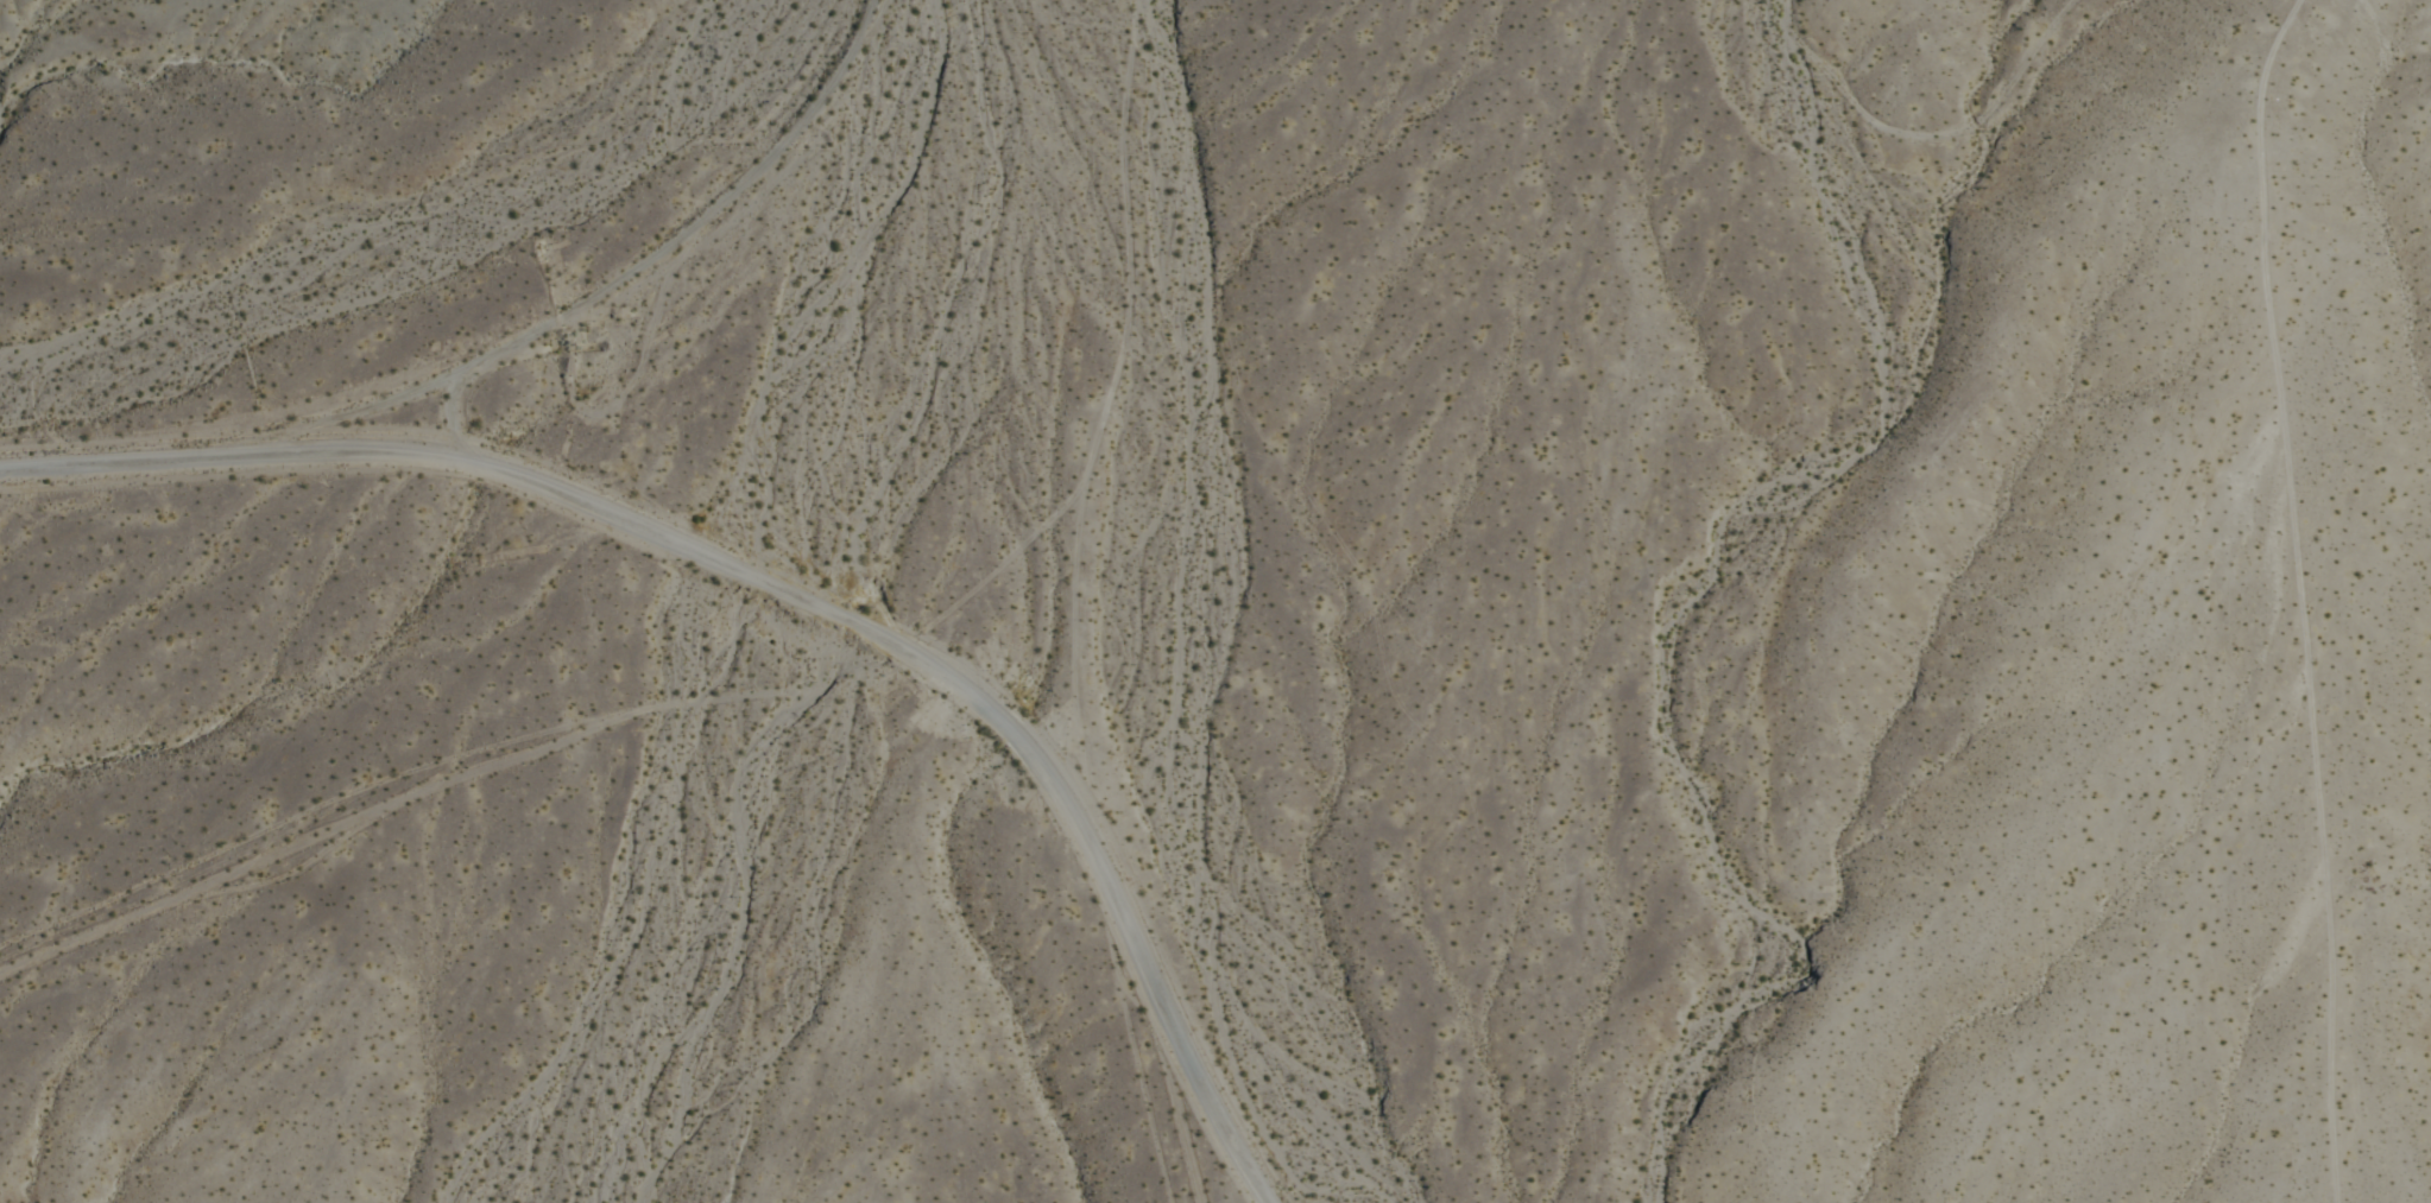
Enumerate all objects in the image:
road: (668, 239)
road: (789, 589)
road: (2300, 596)

